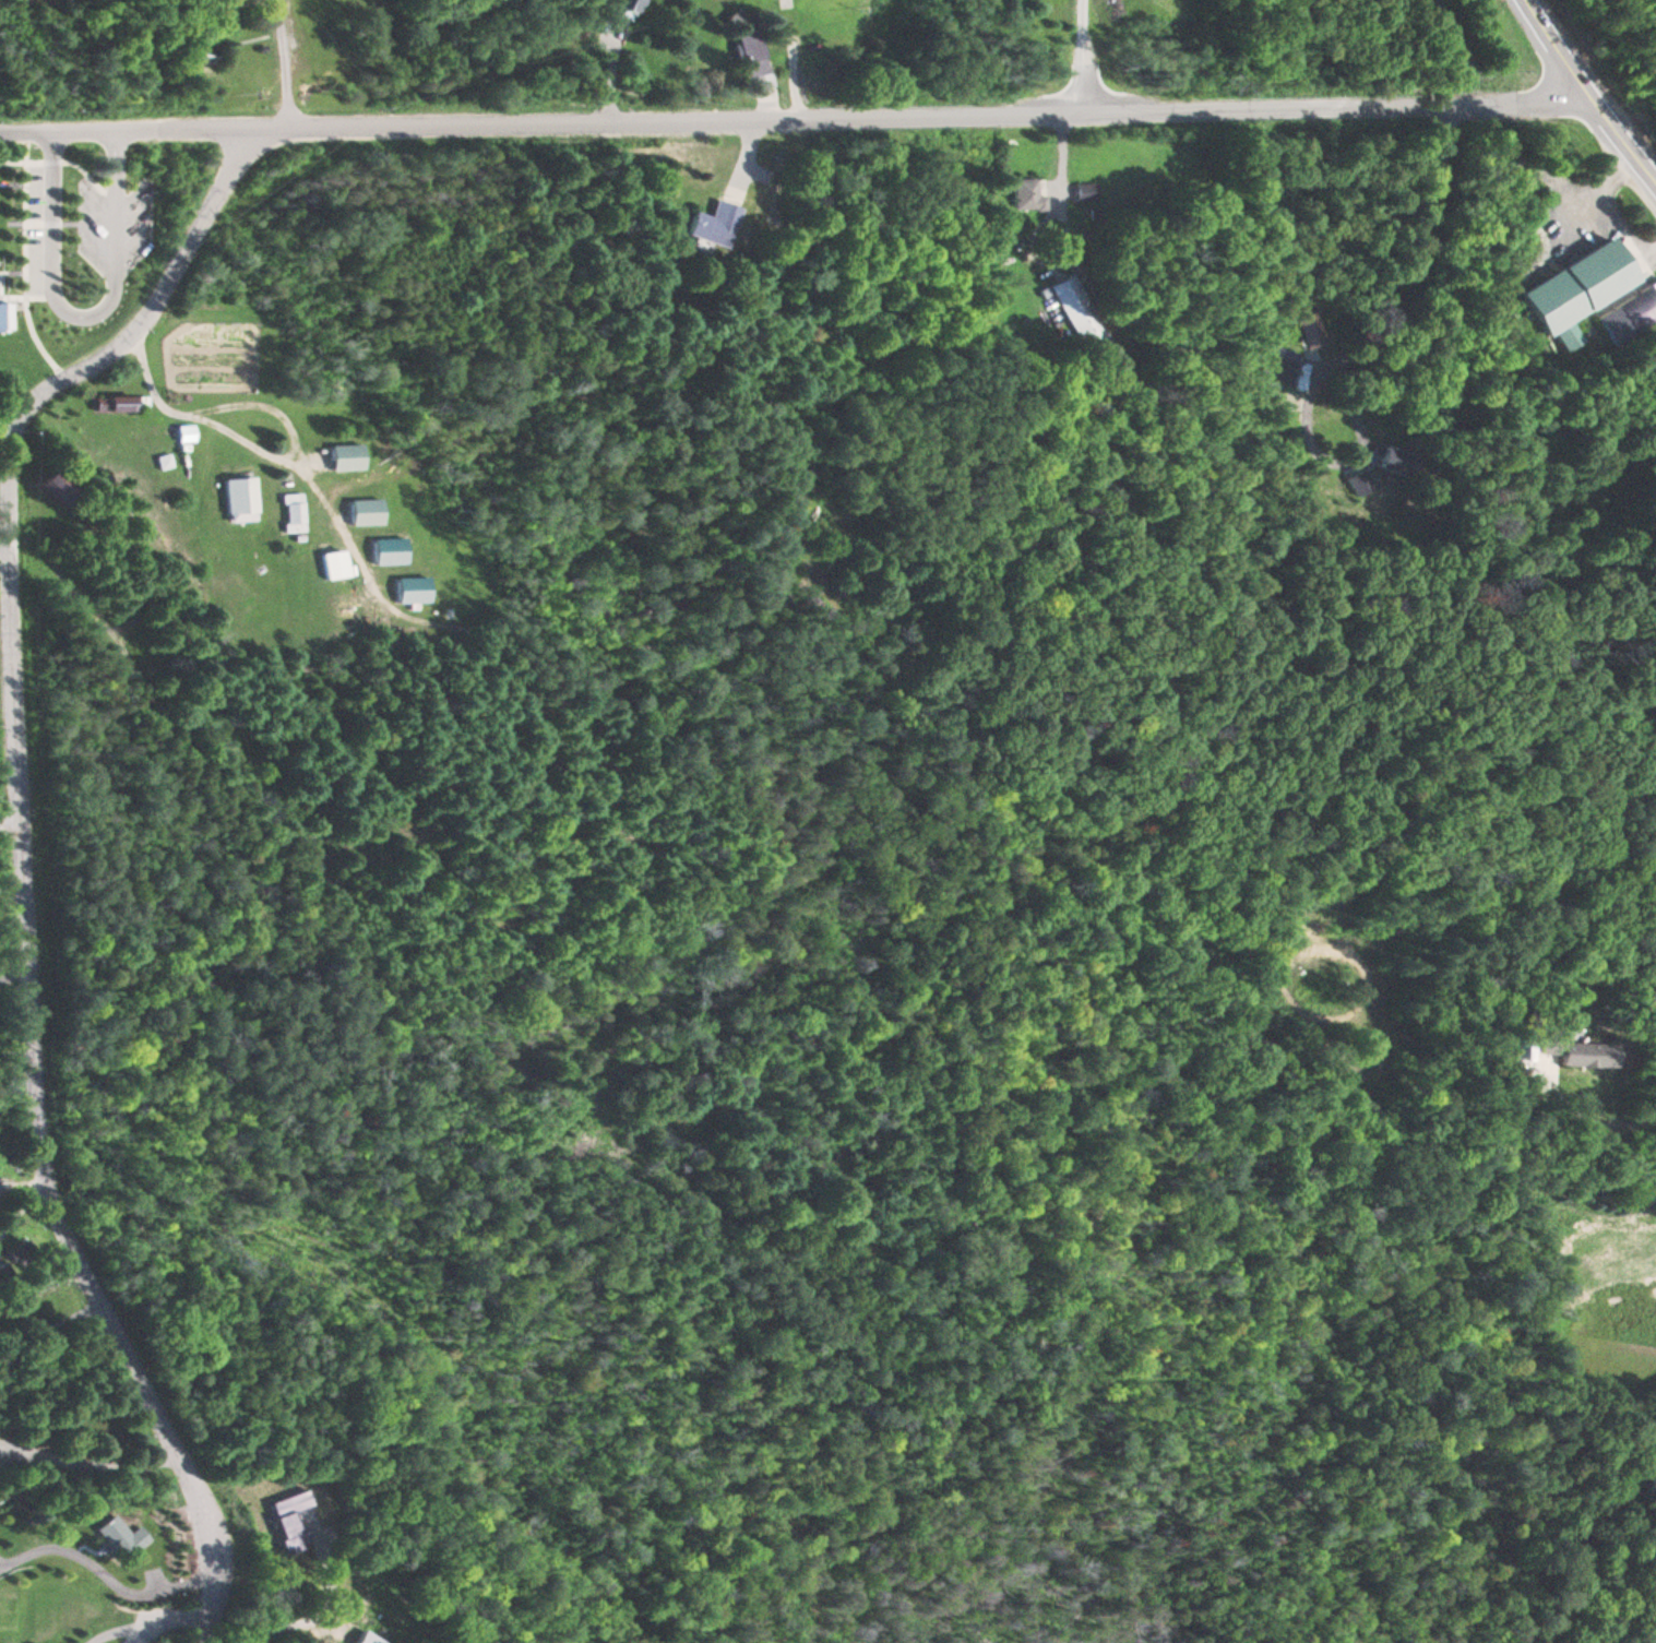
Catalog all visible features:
building: (624, 4)
road: (285, 61)
road: (1588, 91)
road: (794, 114)
road: (65, 157)
building: (1083, 190)
building: (1024, 192)
road: (41, 221)
building: (713, 224)
road: (24, 255)
road: (12, 270)
park: (15, 277)
building: (1580, 287)
road: (26, 295)
building: (1075, 310)
building: (1631, 311)
road: (82, 312)
building: (5, 315)
building: (115, 403)
building: (183, 434)
building: (345, 456)
building: (1393, 460)
building: (1355, 484)
building: (57, 486)
building: (239, 495)
building: (365, 511)
building: (290, 512)
road: (0, 535)
building: (385, 550)
building: (334, 563)
building: (409, 588)
road: (13, 813)
building: (1582, 1050)
building: (1605, 1116)
building: (1653, 1479)
building: (130, 1544)
building: (366, 1639)

